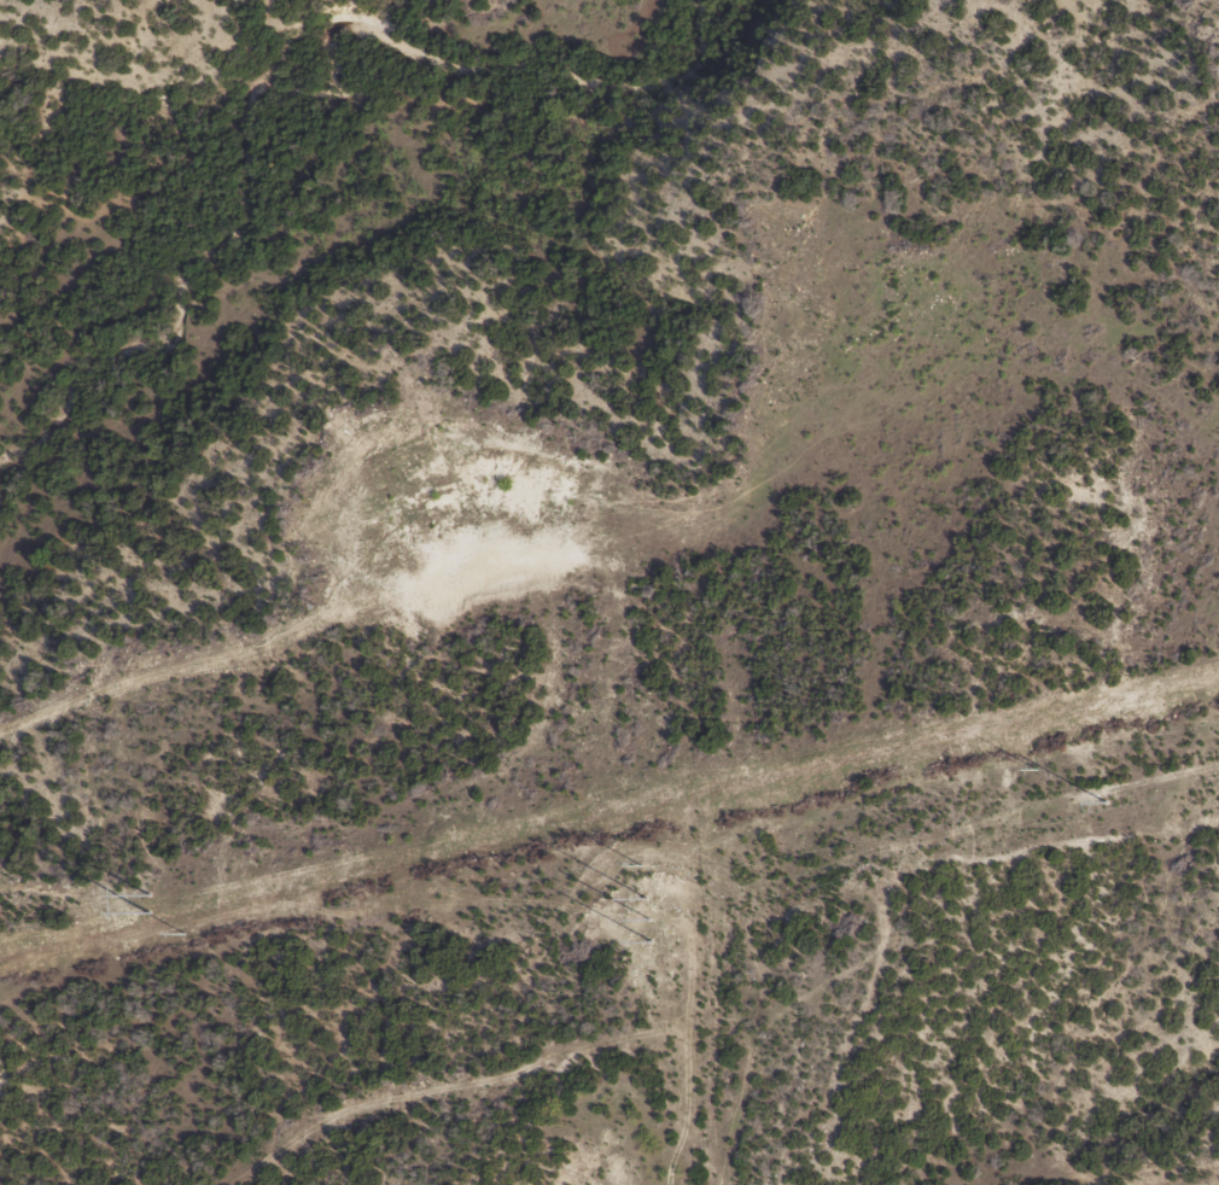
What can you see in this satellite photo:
power tower: (1031, 769)
power tower: (1103, 801)
power tower: (640, 864)
power tower: (146, 904)
power tower: (646, 920)
power tower: (182, 930)
road: (951, 975)

